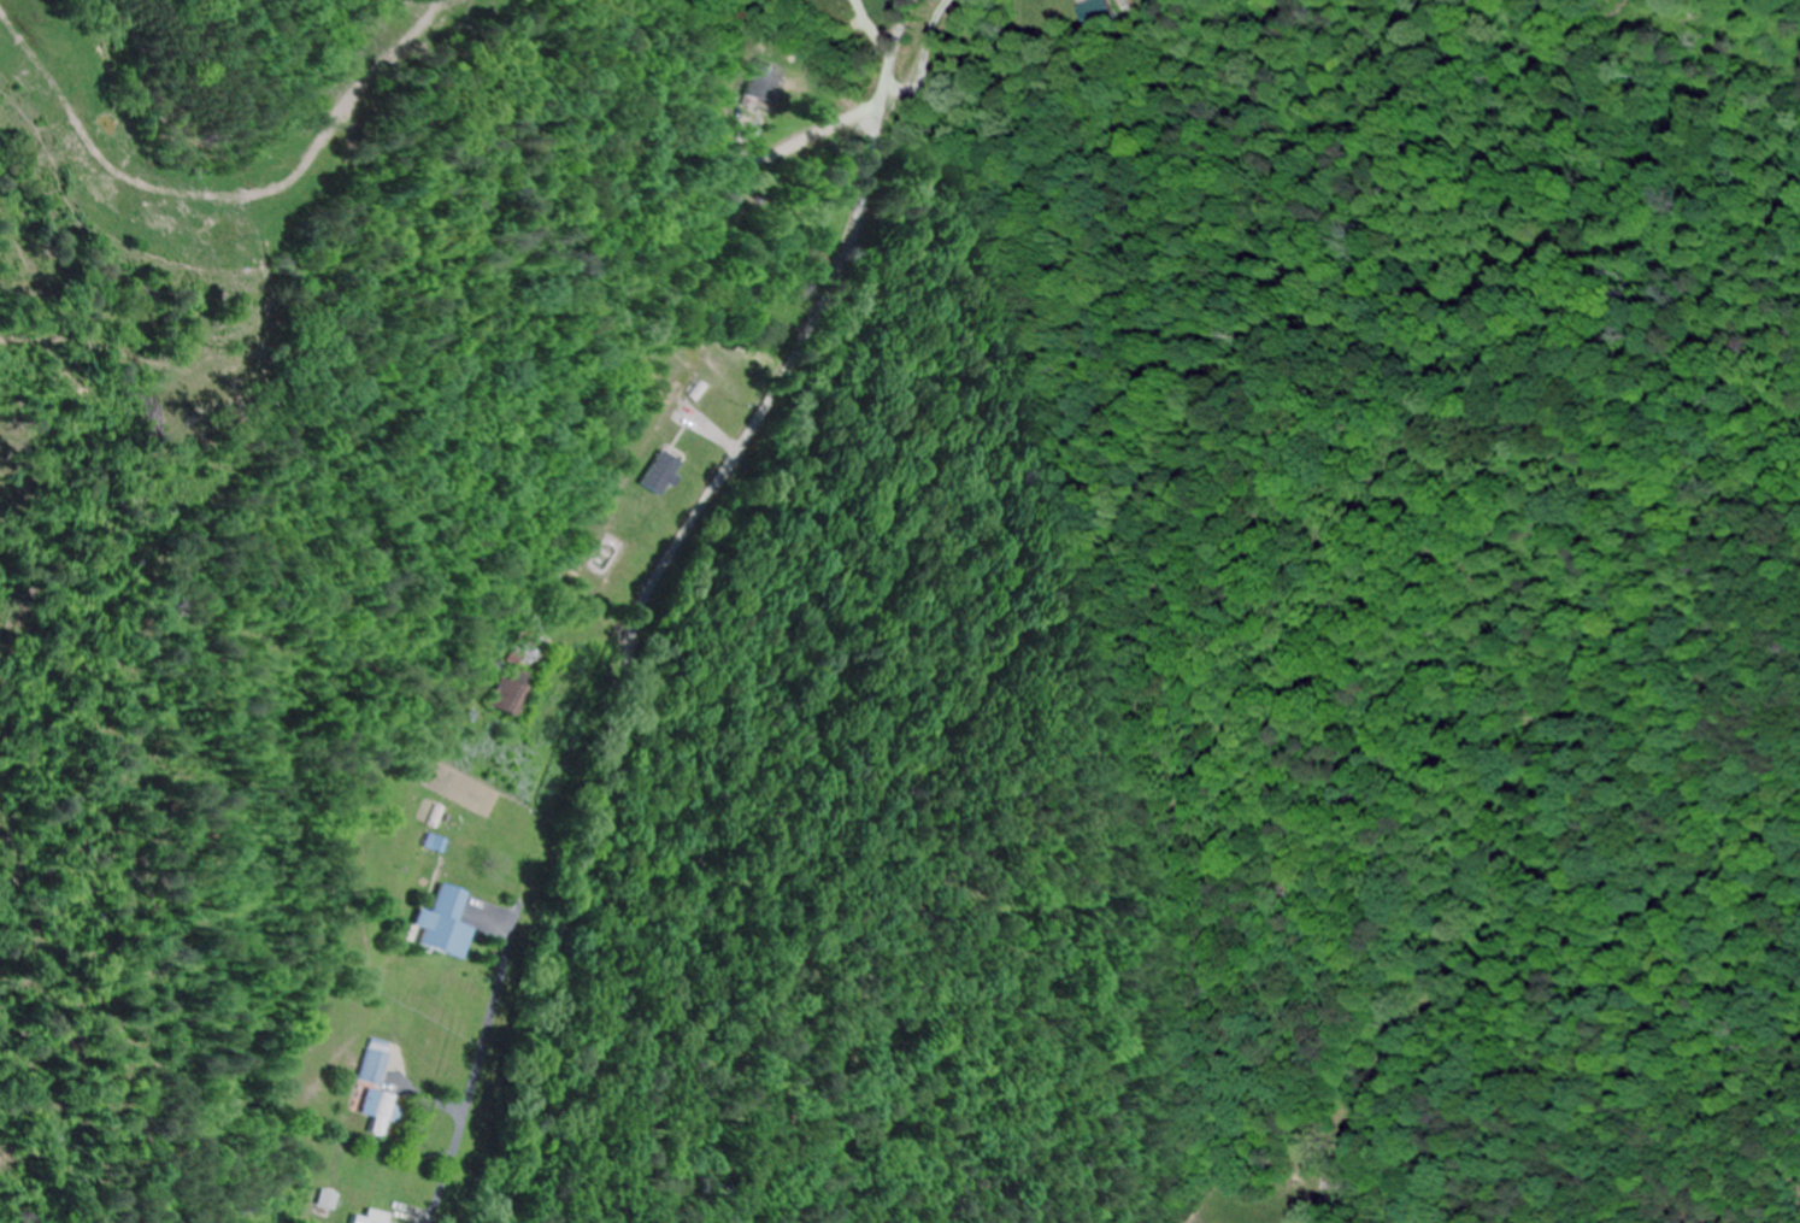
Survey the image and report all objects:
building: (1100, 13)
building: (758, 83)
building: (659, 474)
road: (651, 590)
building: (517, 672)
building: (446, 924)
building: (376, 1066)
building: (381, 1111)
building: (329, 1200)
building: (372, 1218)

